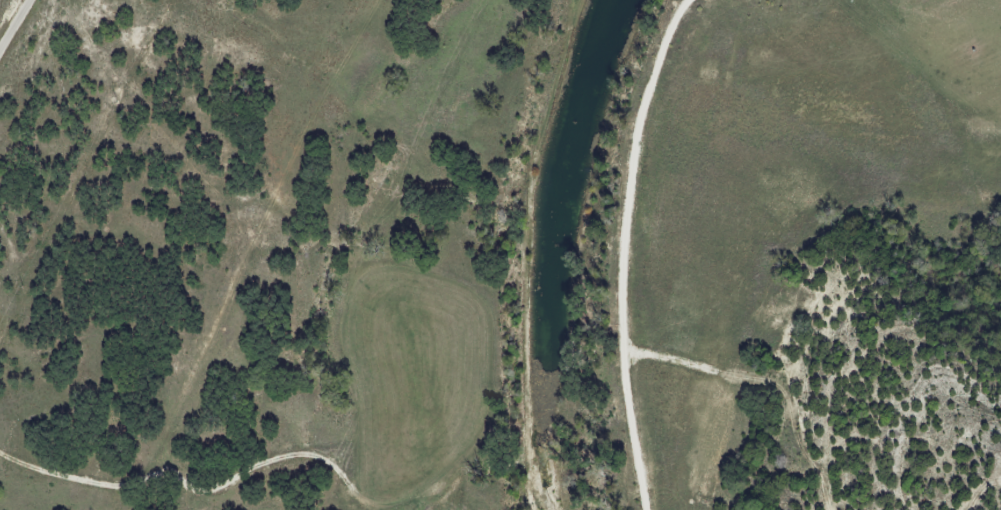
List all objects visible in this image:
road: (14, 23)

